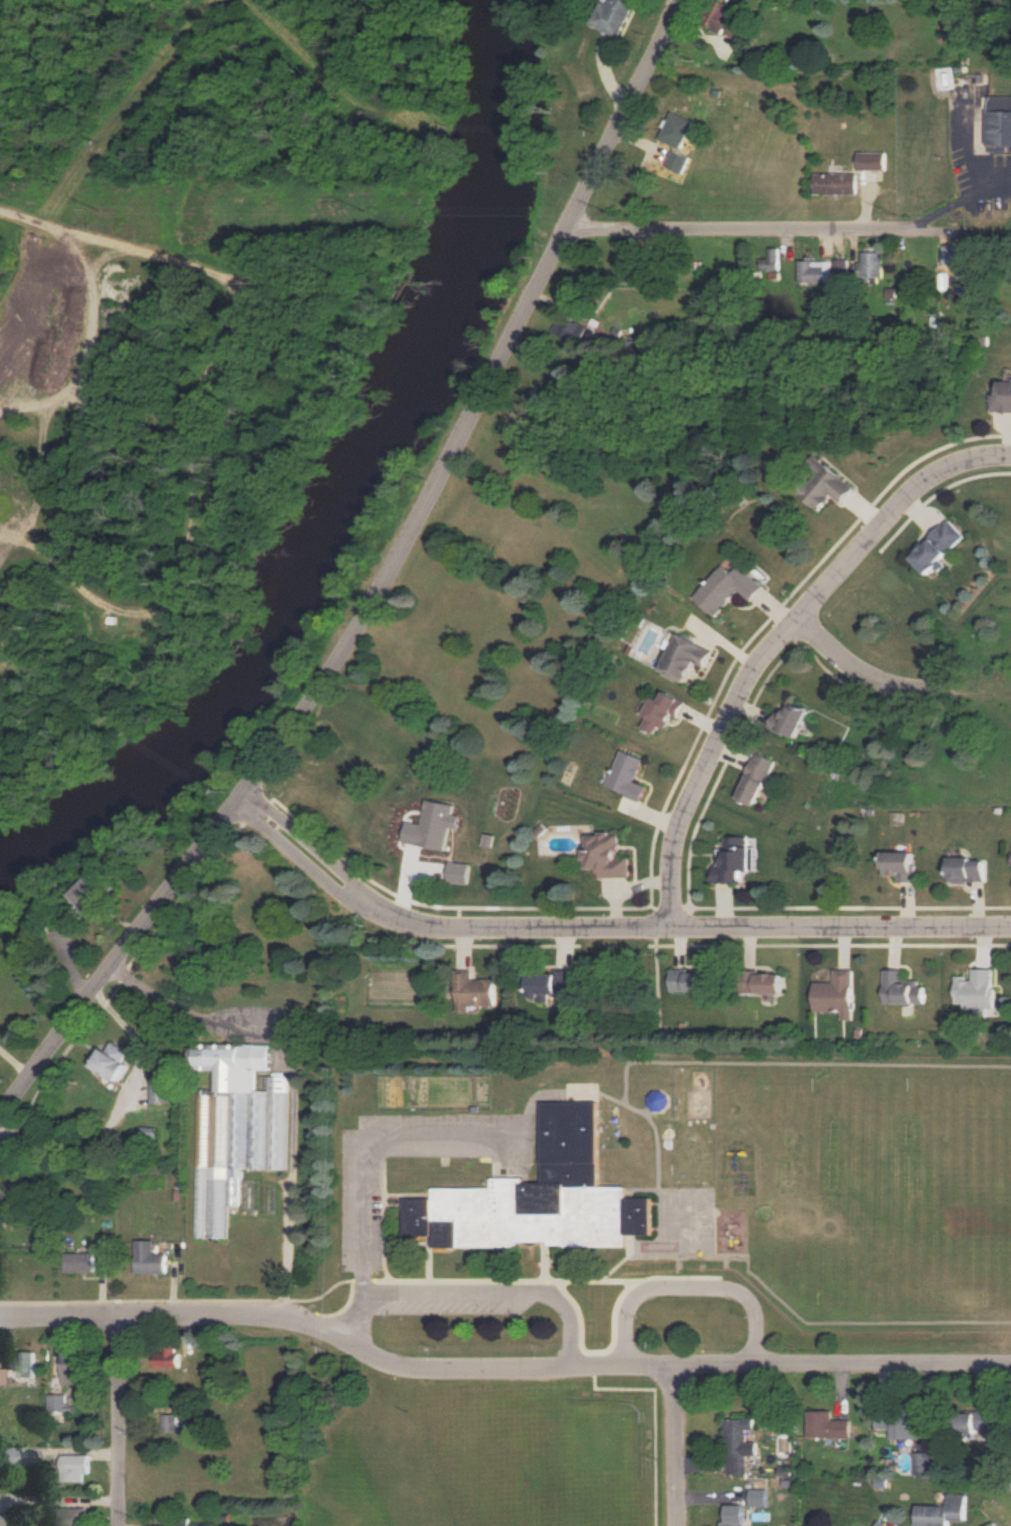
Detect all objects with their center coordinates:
building: (614, 15)
building: (727, 21)
building: (998, 122)
building: (676, 130)
building: (871, 160)
building: (677, 161)
building: (835, 183)
road: (793, 230)
building: (951, 256)
building: (771, 260)
building: (871, 265)
building: (840, 269)
building: (814, 271)
building: (575, 330)
road: (79, 367)
building: (1003, 397)
road: (34, 408)
road: (197, 421)
building: (823, 484)
river: (352, 506)
building: (936, 547)
road: (369, 581)
building: (726, 587)
road: (773, 648)
building: (684, 657)
road: (895, 681)
building: (661, 711)
building: (789, 719)
building: (627, 775)
building: (756, 778)
building: (433, 826)
building: (606, 855)
building: (734, 860)
building: (899, 864)
building: (966, 869)
building: (458, 872)
building: (92, 890)
road: (606, 929)
building: (690, 980)
building: (769, 982)
building: (551, 983)
building: (902, 988)
building: (976, 990)
building: (474, 991)
building: (836, 993)
road: (130, 1037)
building: (113, 1060)
road: (295, 1078)
building: (161, 1089)
building: (235, 1128)
building: (149, 1132)
road: (367, 1139)
building: (539, 1196)
building: (149, 1258)
building: (80, 1262)
road: (686, 1287)
road: (443, 1294)
road: (353, 1311)
road: (567, 1313)
building: (168, 1357)
building: (29, 1364)
building: (70, 1367)
road: (498, 1369)
building: (1, 1376)
building: (57, 1402)
road: (123, 1421)
building: (973, 1421)
building: (169, 1422)
building: (827, 1425)
building: (899, 1425)
road: (676, 1446)
building: (738, 1446)
building: (7, 1456)
building: (922, 1462)
building: (73, 1466)
building: (942, 1511)
building: (734, 1515)
building: (69, 1516)
building: (182, 1522)
building: (878, 1523)
building: (993, 1524)

